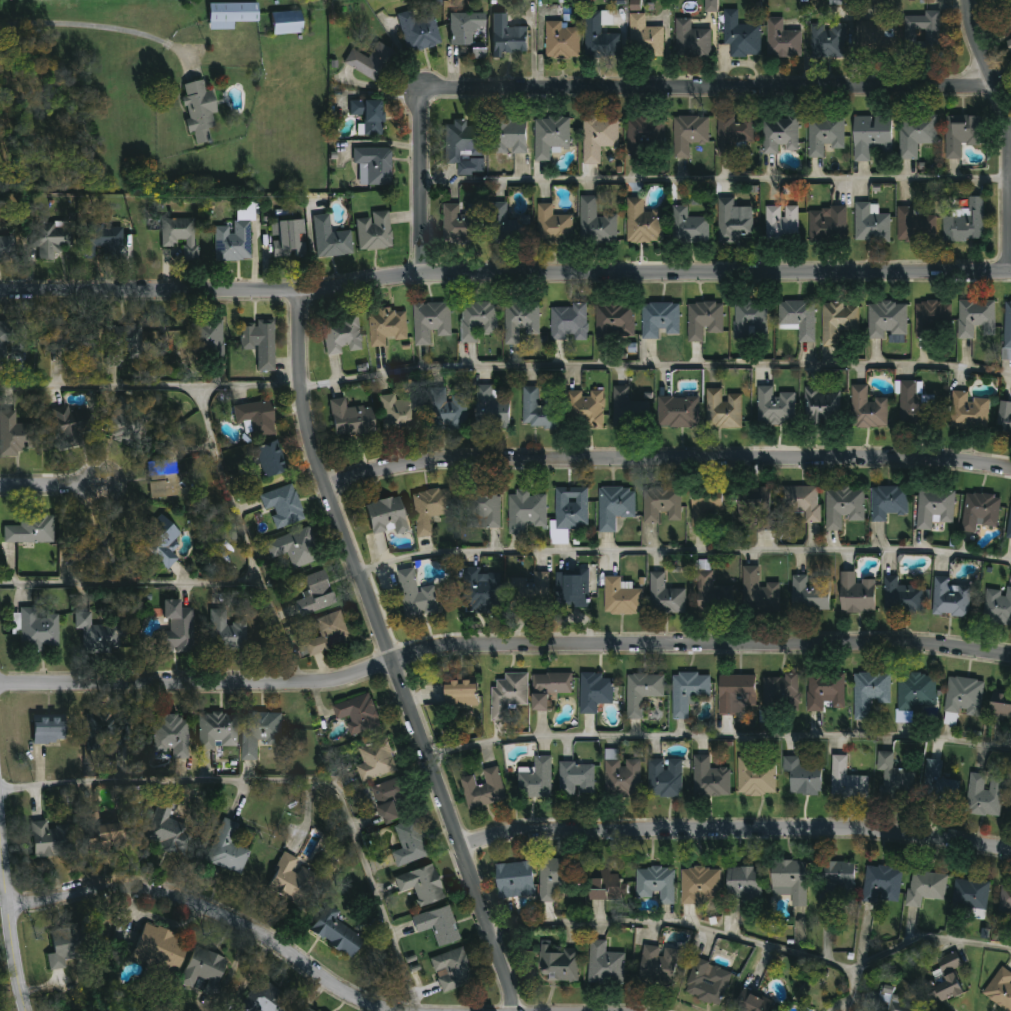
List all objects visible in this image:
building: (711, 6)
building: (230, 14)
building: (1009, 16)
building: (286, 22)
road: (99, 24)
building: (465, 28)
building: (418, 30)
building: (921, 32)
building: (876, 36)
building: (507, 37)
building: (740, 37)
building: (598, 38)
building: (643, 38)
building: (691, 41)
building: (781, 41)
building: (829, 41)
building: (561, 42)
building: (1008, 46)
building: (477, 52)
building: (372, 62)
road: (621, 91)
building: (198, 110)
building: (369, 116)
road: (1006, 134)
building: (688, 135)
building: (780, 135)
building: (914, 135)
building: (960, 135)
building: (511, 136)
building: (550, 136)
building: (823, 136)
building: (598, 137)
building: (734, 137)
building: (869, 137)
building: (645, 138)
building: (464, 147)
building: (375, 164)
road: (715, 180)
building: (464, 224)
building: (595, 224)
building: (642, 224)
building: (732, 224)
building: (781, 224)
building: (965, 224)
building: (870, 225)
building: (827, 226)
building: (508, 227)
building: (553, 227)
building: (689, 227)
building: (914, 227)
building: (374, 231)
building: (180, 235)
building: (288, 239)
building: (331, 239)
building: (101, 241)
building: (50, 242)
building: (232, 242)
building: (6, 246)
road: (504, 276)
building: (797, 319)
building: (975, 319)
building: (477, 321)
building: (659, 321)
building: (703, 321)
building: (750, 321)
building: (886, 321)
building: (520, 322)
building: (614, 322)
building: (837, 322)
building: (932, 322)
building: (431, 323)
building: (568, 323)
building: (388, 327)
building: (1007, 327)
building: (342, 336)
building: (18, 337)
building: (71, 338)
building: (160, 339)
building: (206, 339)
building: (121, 342)
building: (260, 343)
building: (1006, 354)
road: (656, 365)
road: (151, 386)
building: (775, 407)
building: (823, 407)
building: (915, 407)
building: (539, 409)
building: (448, 410)
building: (585, 410)
building: (867, 410)
building: (491, 411)
building: (723, 411)
building: (628, 412)
building: (677, 413)
building: (969, 413)
building: (400, 415)
building: (255, 418)
building: (128, 420)
building: (350, 420)
building: (1003, 420)
building: (67, 425)
building: (11, 434)
building: (271, 459)
road: (668, 463)
building: (163, 478)
road: (50, 486)
building: (888, 503)
building: (802, 504)
building: (662, 506)
building: (283, 507)
building: (614, 507)
building: (755, 507)
building: (843, 507)
building: (430, 509)
building: (485, 509)
building: (571, 509)
building: (703, 509)
building: (934, 509)
building: (525, 512)
building: (980, 512)
building: (386, 516)
building: (1009, 525)
building: (30, 529)
road: (249, 537)
building: (160, 540)
building: (104, 547)
building: (294, 548)
road: (683, 551)
road: (132, 582)
building: (574, 590)
building: (481, 591)
building: (530, 591)
building: (757, 592)
building: (314, 593)
building: (810, 595)
building: (856, 595)
building: (713, 596)
building: (416, 597)
building: (622, 597)
building: (665, 597)
building: (902, 597)
building: (950, 599)
building: (998, 607)
building: (176, 628)
building: (39, 630)
building: (227, 633)
building: (329, 634)
building: (99, 635)
road: (502, 650)
road: (388, 656)
building: (549, 688)
building: (824, 691)
building: (595, 692)
building: (688, 692)
building: (916, 692)
building: (869, 693)
building: (781, 694)
building: (460, 695)
building: (508, 695)
building: (737, 695)
building: (641, 697)
building: (963, 697)
building: (1000, 705)
building: (358, 714)
building: (116, 729)
building: (48, 730)
building: (218, 730)
building: (260, 733)
building: (170, 737)
road: (718, 739)
building: (375, 761)
building: (622, 778)
building: (757, 778)
building: (802, 778)
building: (894, 778)
building: (577, 779)
building: (665, 779)
road: (286, 780)
building: (537, 780)
building: (710, 780)
building: (846, 782)
building: (938, 785)
building: (483, 789)
building: (984, 796)
building: (389, 799)
building: (106, 827)
building: (166, 828)
road: (736, 832)
building: (50, 840)
building: (409, 844)
building: (227, 848)
building: (553, 878)
building: (291, 880)
building: (514, 880)
building: (790, 881)
building: (836, 883)
building: (744, 884)
building: (420, 885)
building: (656, 885)
building: (700, 885)
building: (882, 886)
building: (604, 887)
building: (926, 888)
building: (970, 895)
building: (1005, 899)
road: (10, 909)
road: (205, 909)
building: (437, 925)
building: (335, 932)
road: (755, 943)
building: (63, 946)
building: (158, 948)
building: (559, 964)
building: (604, 965)
building: (658, 966)
building: (452, 970)
building: (204, 971)
building: (708, 983)
building: (944, 983)
building: (1000, 990)
road: (852, 991)
building: (265, 999)
building: (894, 1002)
building: (750, 1004)
building: (308, 1010)

